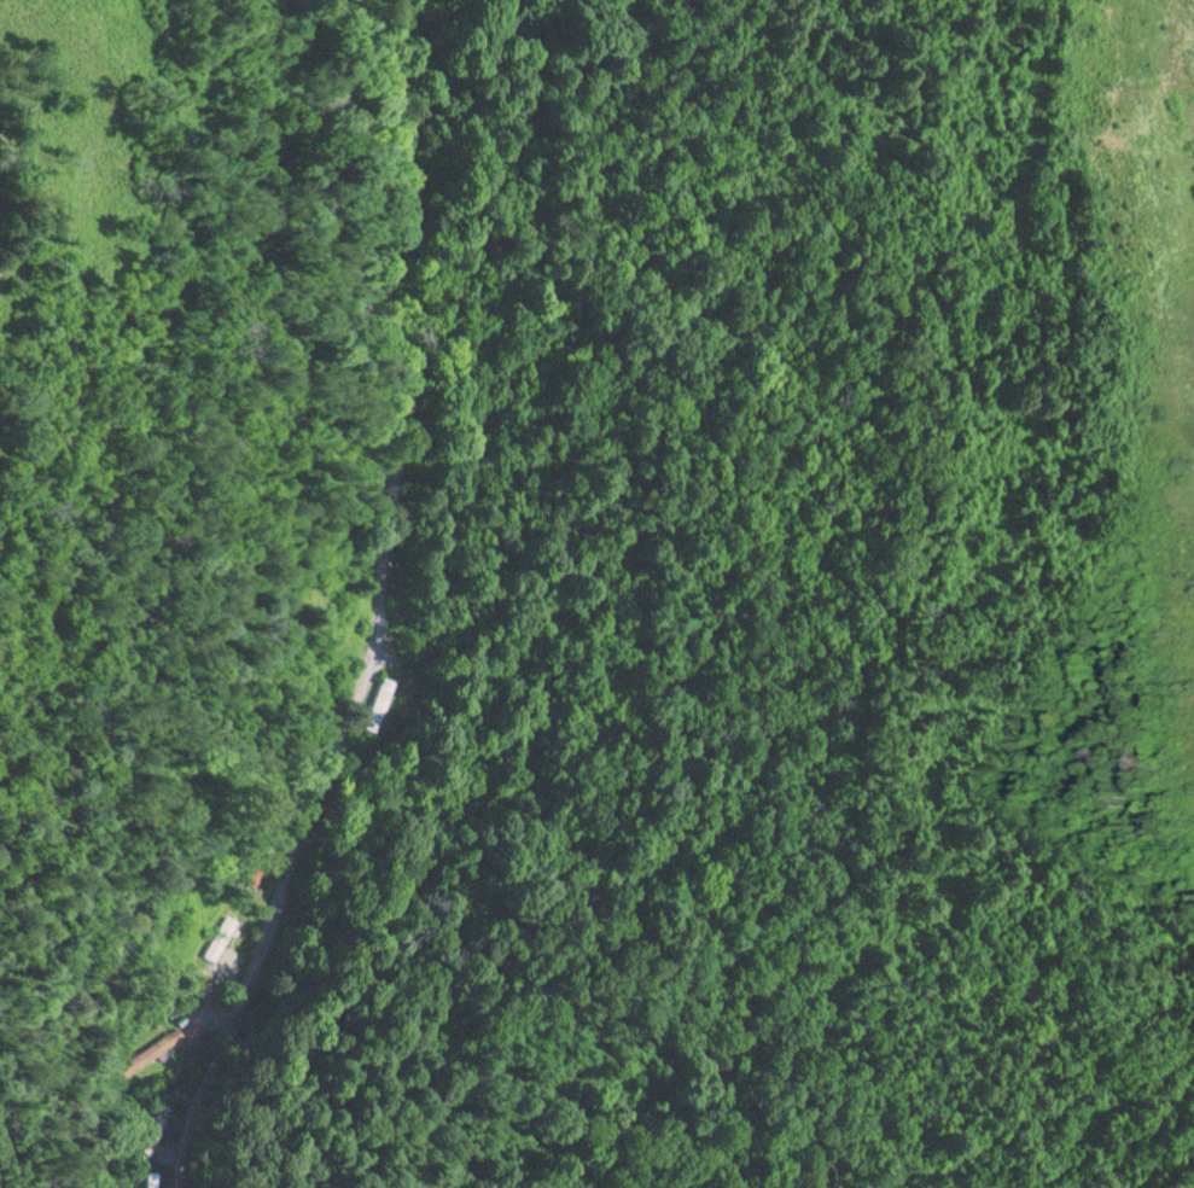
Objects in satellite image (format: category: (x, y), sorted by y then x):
road: (385, 607)
building: (383, 703)
building: (219, 937)
building: (147, 1053)
building: (157, 1128)
building: (156, 1178)

